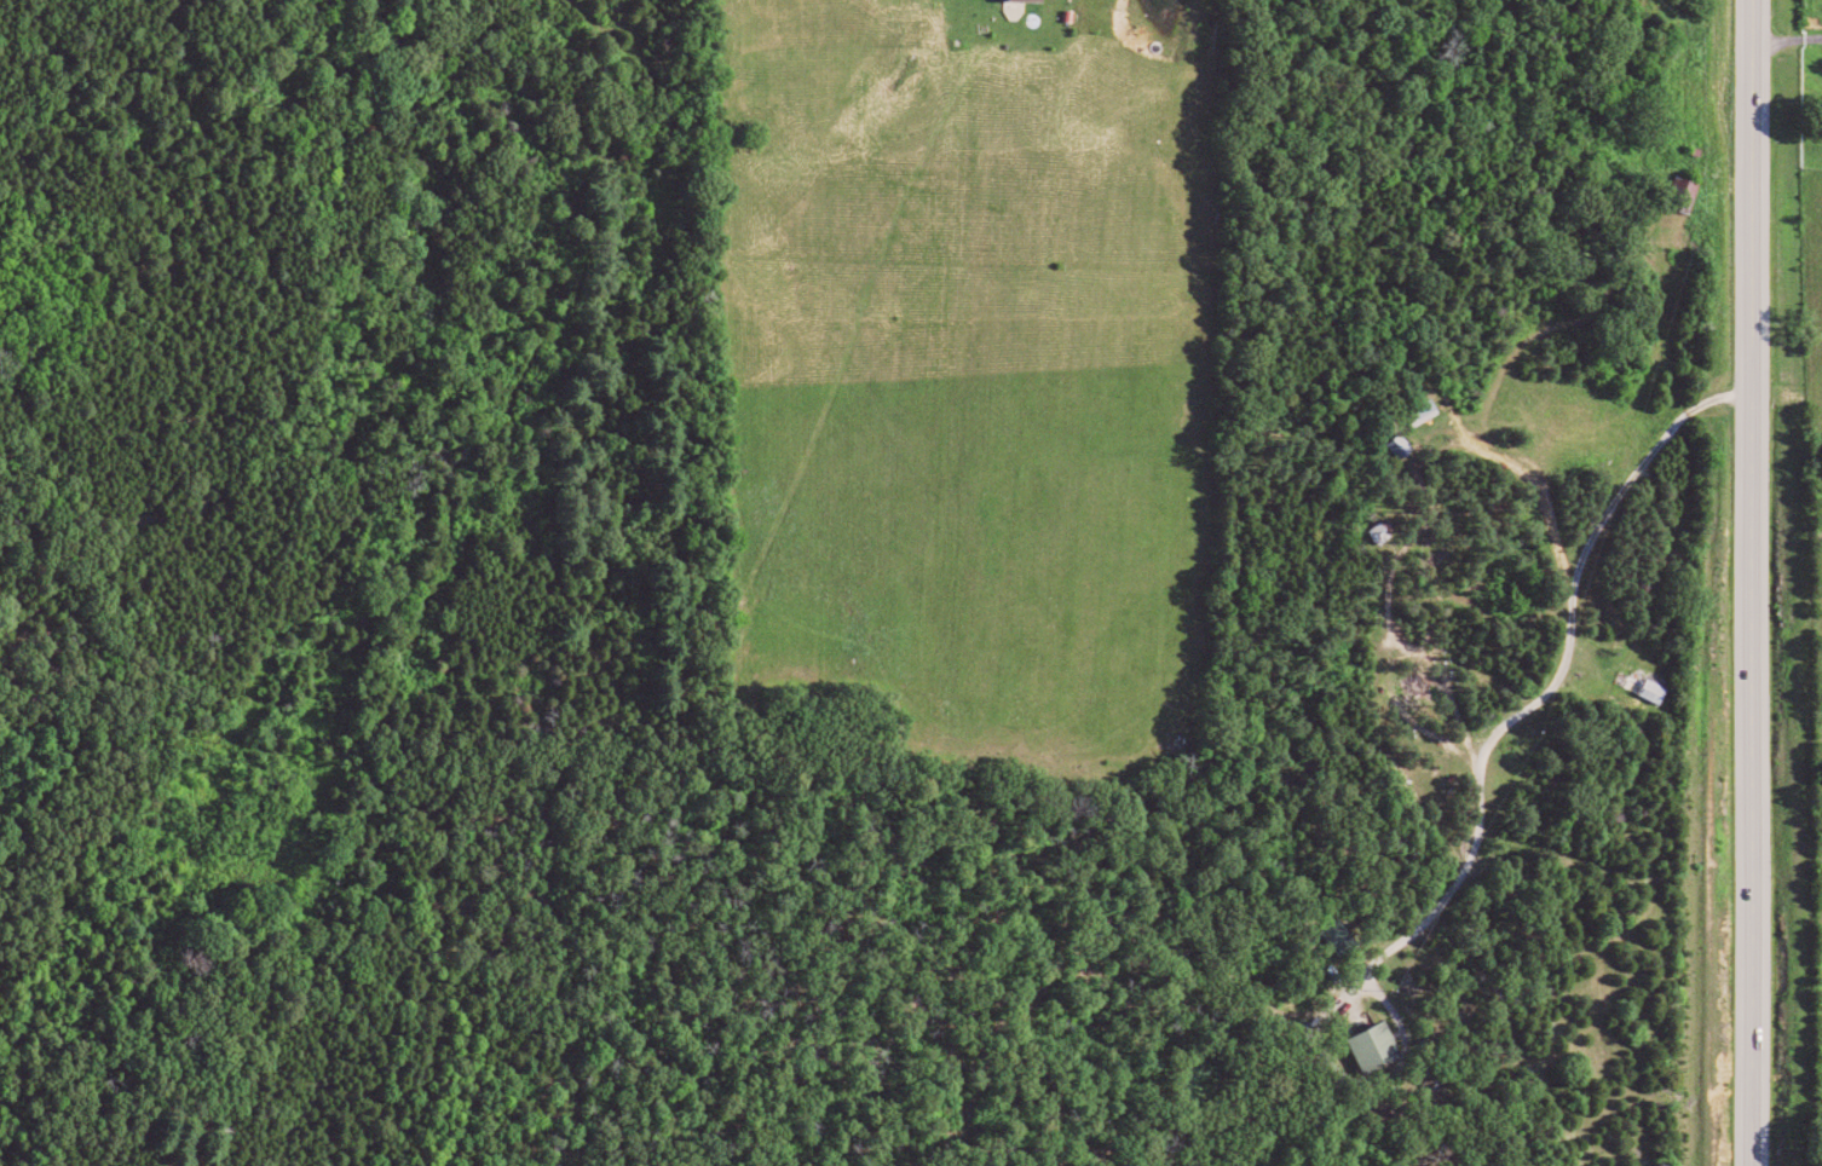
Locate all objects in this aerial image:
building: (1691, 190)
building: (1431, 409)
road: (1753, 582)
building: (1660, 691)

